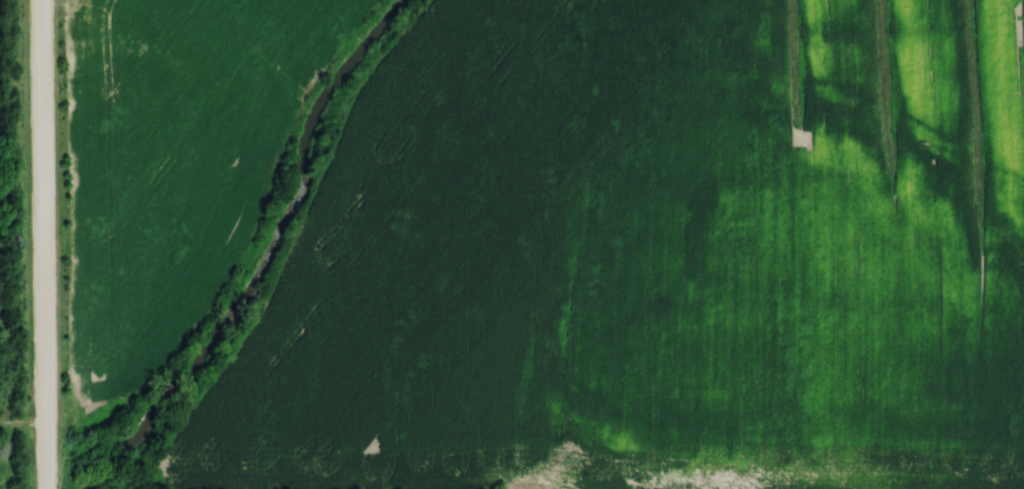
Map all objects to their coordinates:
road: (43, 244)

